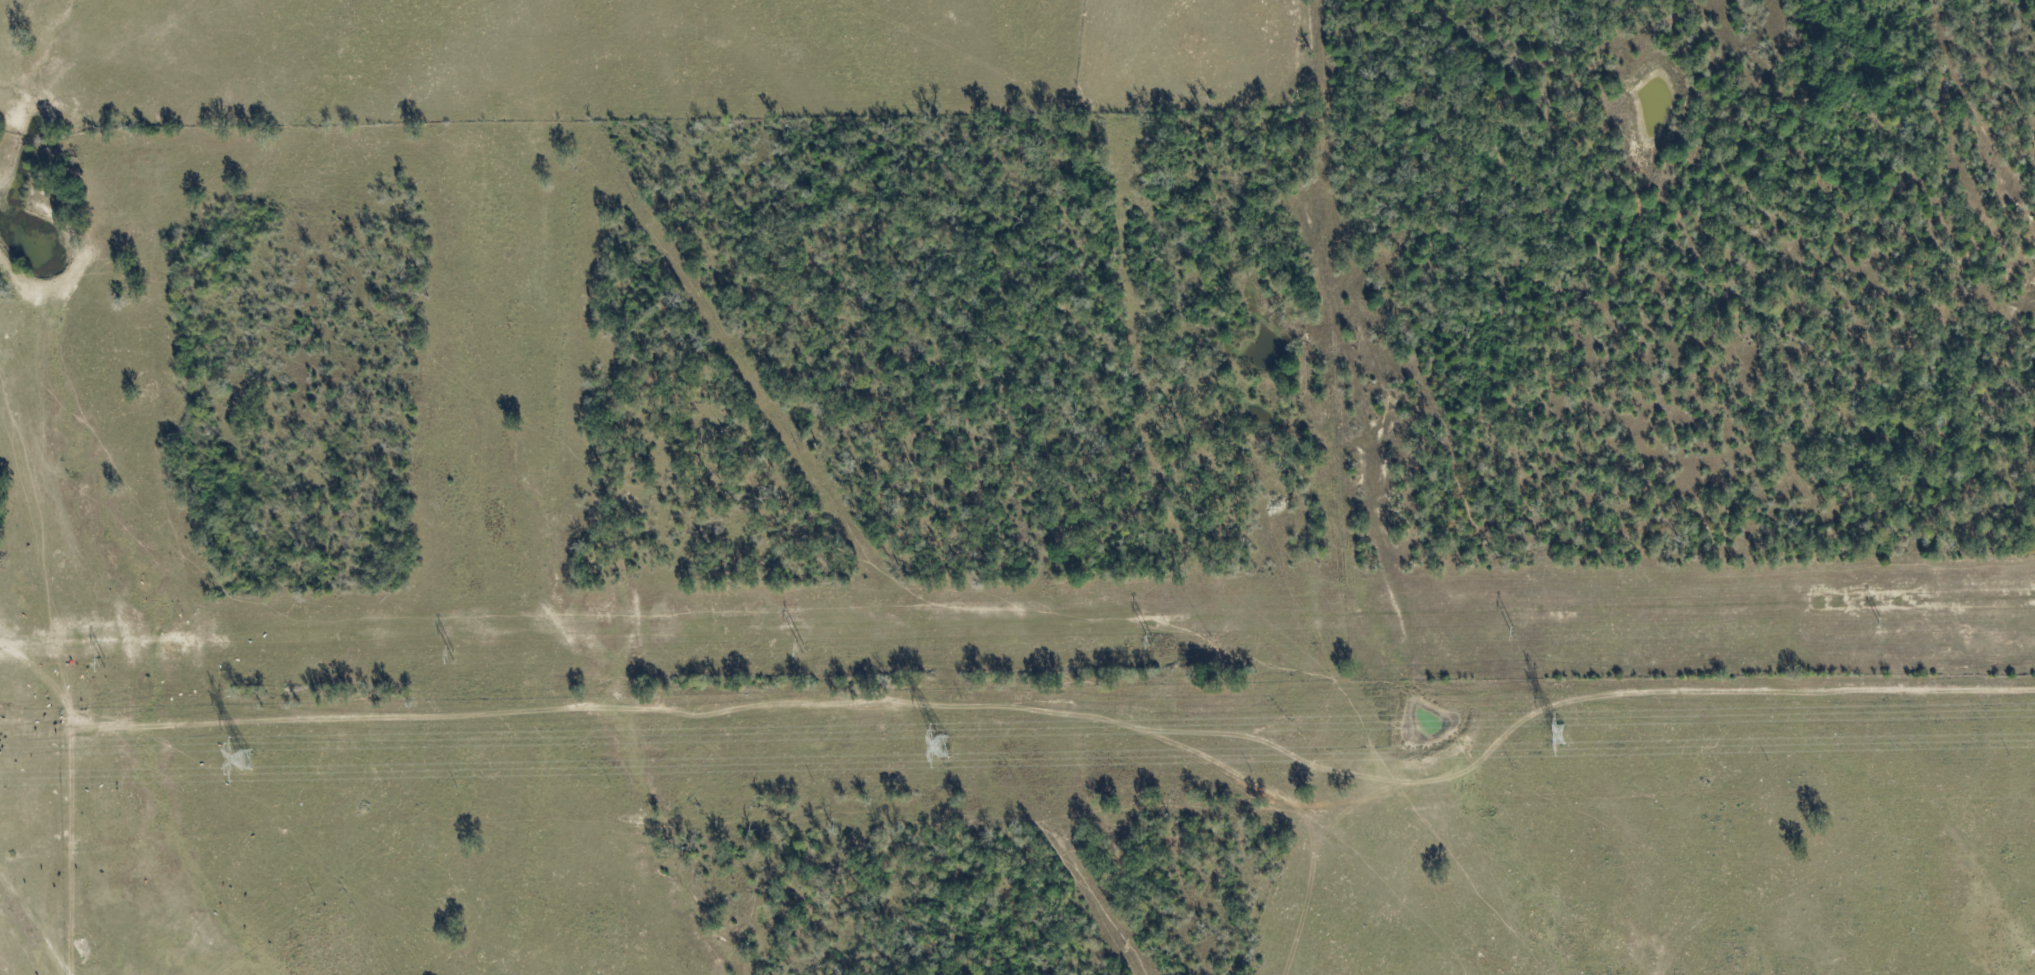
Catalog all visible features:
power tower: (1872, 624)
power tower: (1504, 633)
power tower: (1143, 641)
power tower: (799, 651)
power tower: (474, 656)
power tower: (122, 666)
power tower: (1554, 735)
power tower: (938, 745)
power tower: (245, 761)

